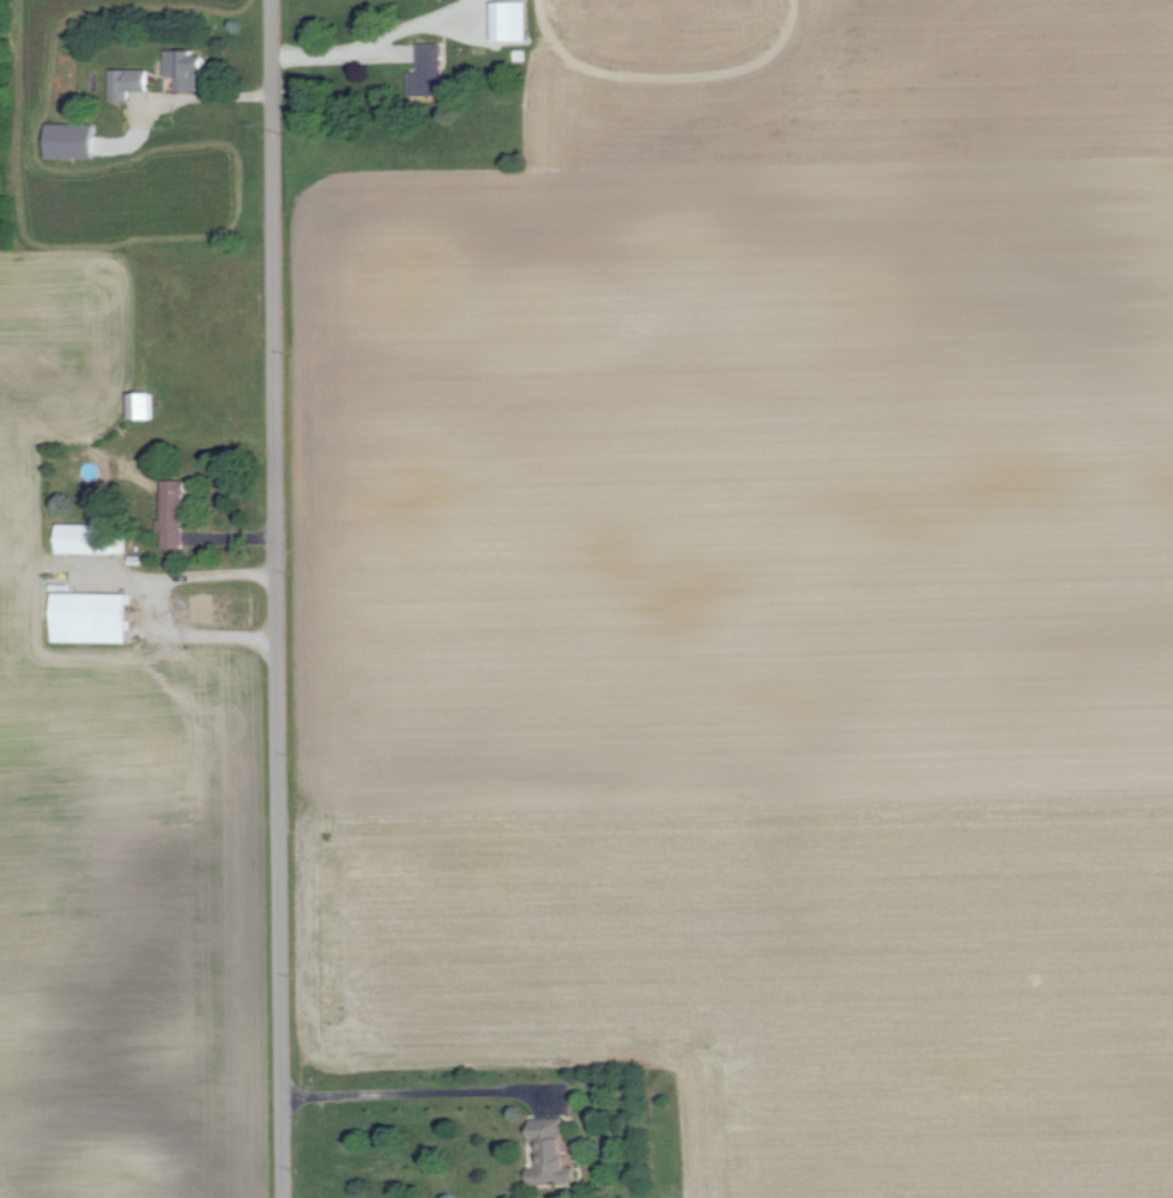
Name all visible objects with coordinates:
building: (514, 20)
road: (333, 49)
building: (188, 67)
building: (433, 68)
building: (129, 81)
road: (180, 97)
building: (74, 140)
building: (143, 405)
building: (176, 514)
building: (90, 538)
road: (273, 599)
road: (162, 604)
building: (93, 617)
road: (421, 1094)
building: (554, 1152)

